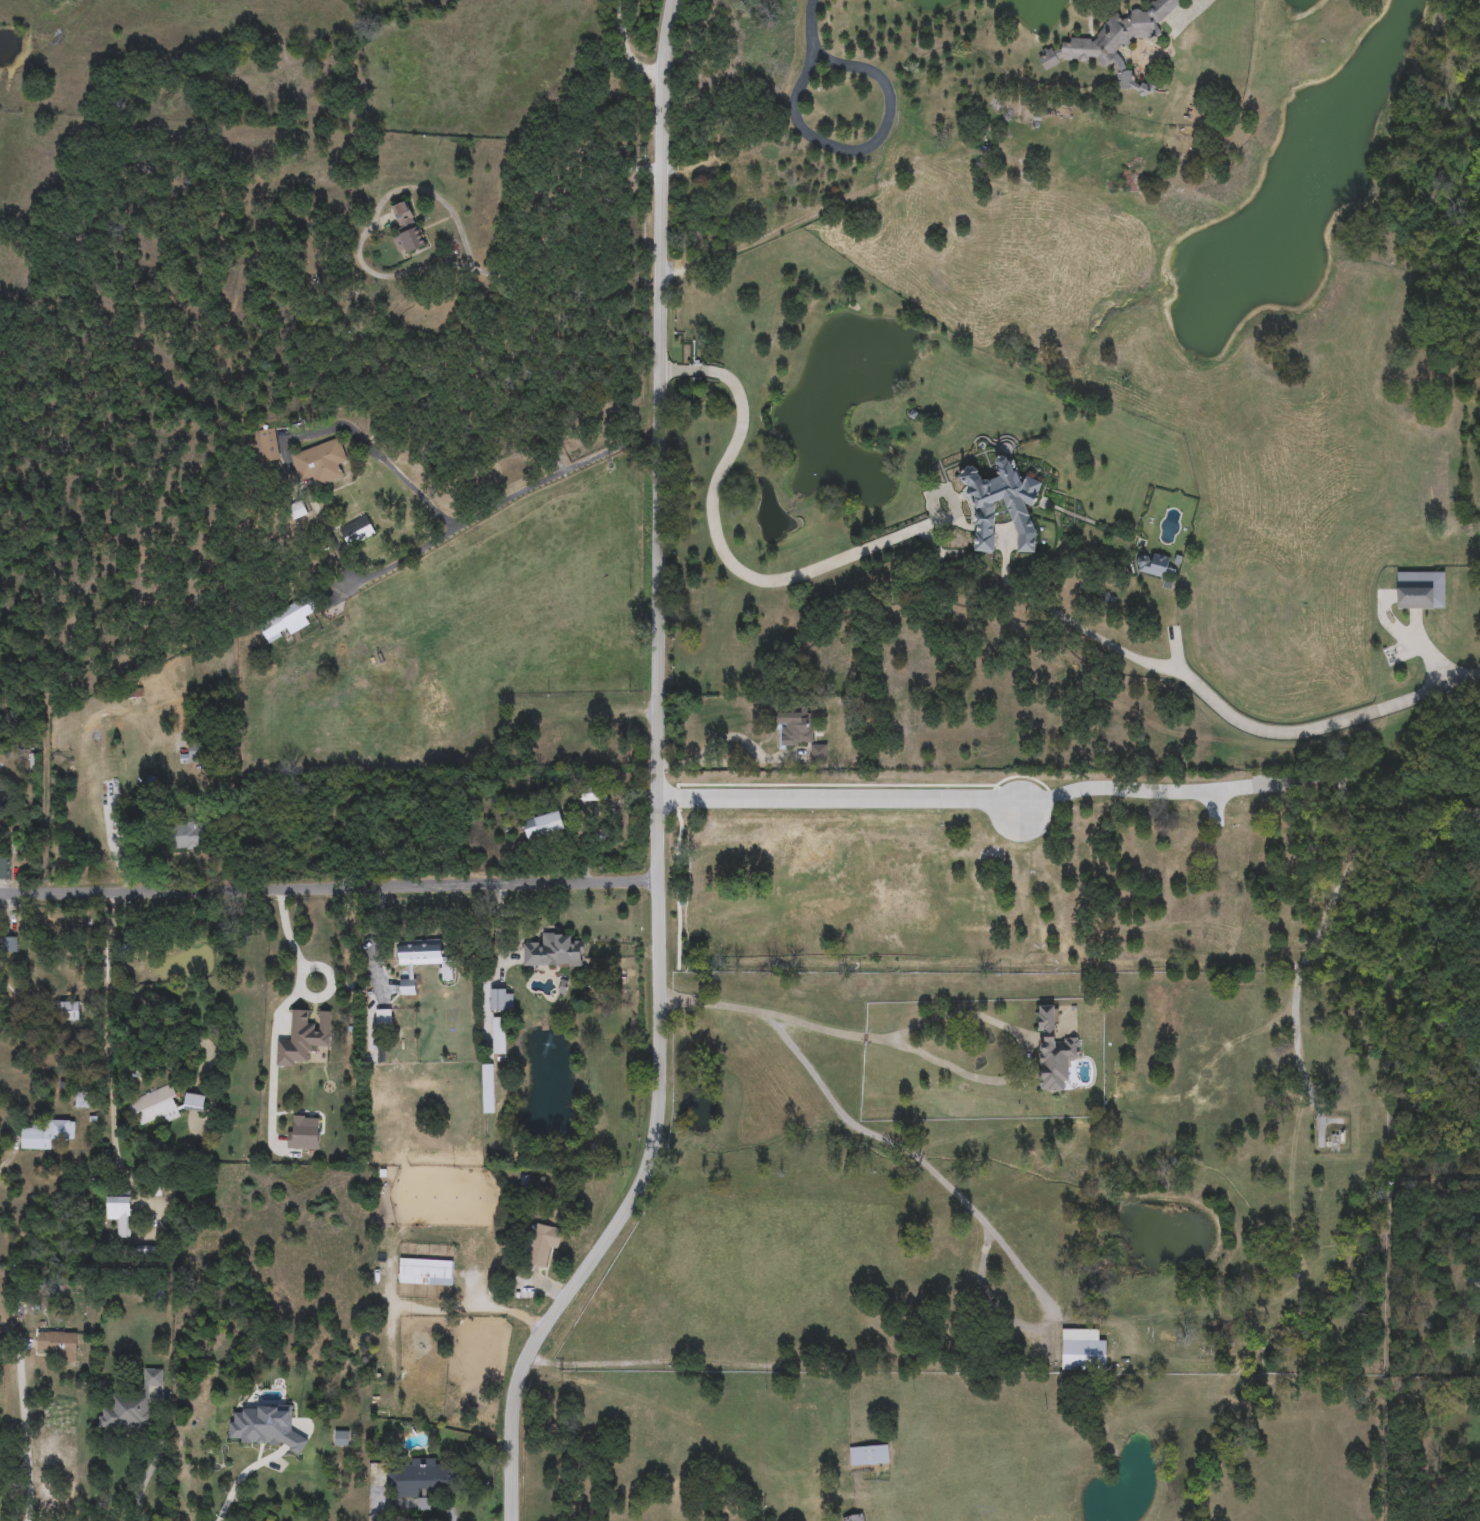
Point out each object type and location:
road: (1201, 1)
road: (1189, 13)
road: (810, 19)
building: (1114, 44)
road: (623, 48)
building: (307, 83)
road: (864, 147)
building: (740, 199)
building: (407, 229)
road: (423, 270)
building: (269, 446)
building: (320, 463)
road: (947, 497)
building: (979, 505)
road: (464, 523)
building: (357, 531)
road: (712, 537)
road: (929, 546)
road: (401, 560)
building: (1152, 564)
building: (1421, 590)
building: (286, 621)
road: (1066, 624)
road: (1412, 640)
road: (1417, 643)
building: (795, 725)
road: (1300, 734)
road: (733, 735)
building: (818, 753)
building: (197, 754)
road: (665, 779)
road: (845, 801)
building: (544, 826)
building: (188, 836)
building: (783, 852)
building: (4, 869)
road: (332, 884)
building: (862, 918)
road: (288, 938)
building: (10, 944)
building: (554, 952)
building: (421, 961)
building: (500, 1000)
building: (70, 1011)
road: (980, 1011)
road: (153, 1012)
building: (384, 1017)
road: (106, 1035)
road: (259, 1043)
building: (1054, 1053)
building: (81, 1100)
building: (195, 1103)
building: (154, 1106)
building: (46, 1135)
building: (119, 1211)
building: (542, 1244)
building: (426, 1272)
road: (1044, 1318)
building: (59, 1346)
building: (1095, 1355)
building: (130, 1406)
building: (231, 1433)
road: (20, 1435)
building: (868, 1456)
road: (150, 1469)
road: (227, 1474)
building: (420, 1478)
building: (853, 1518)

